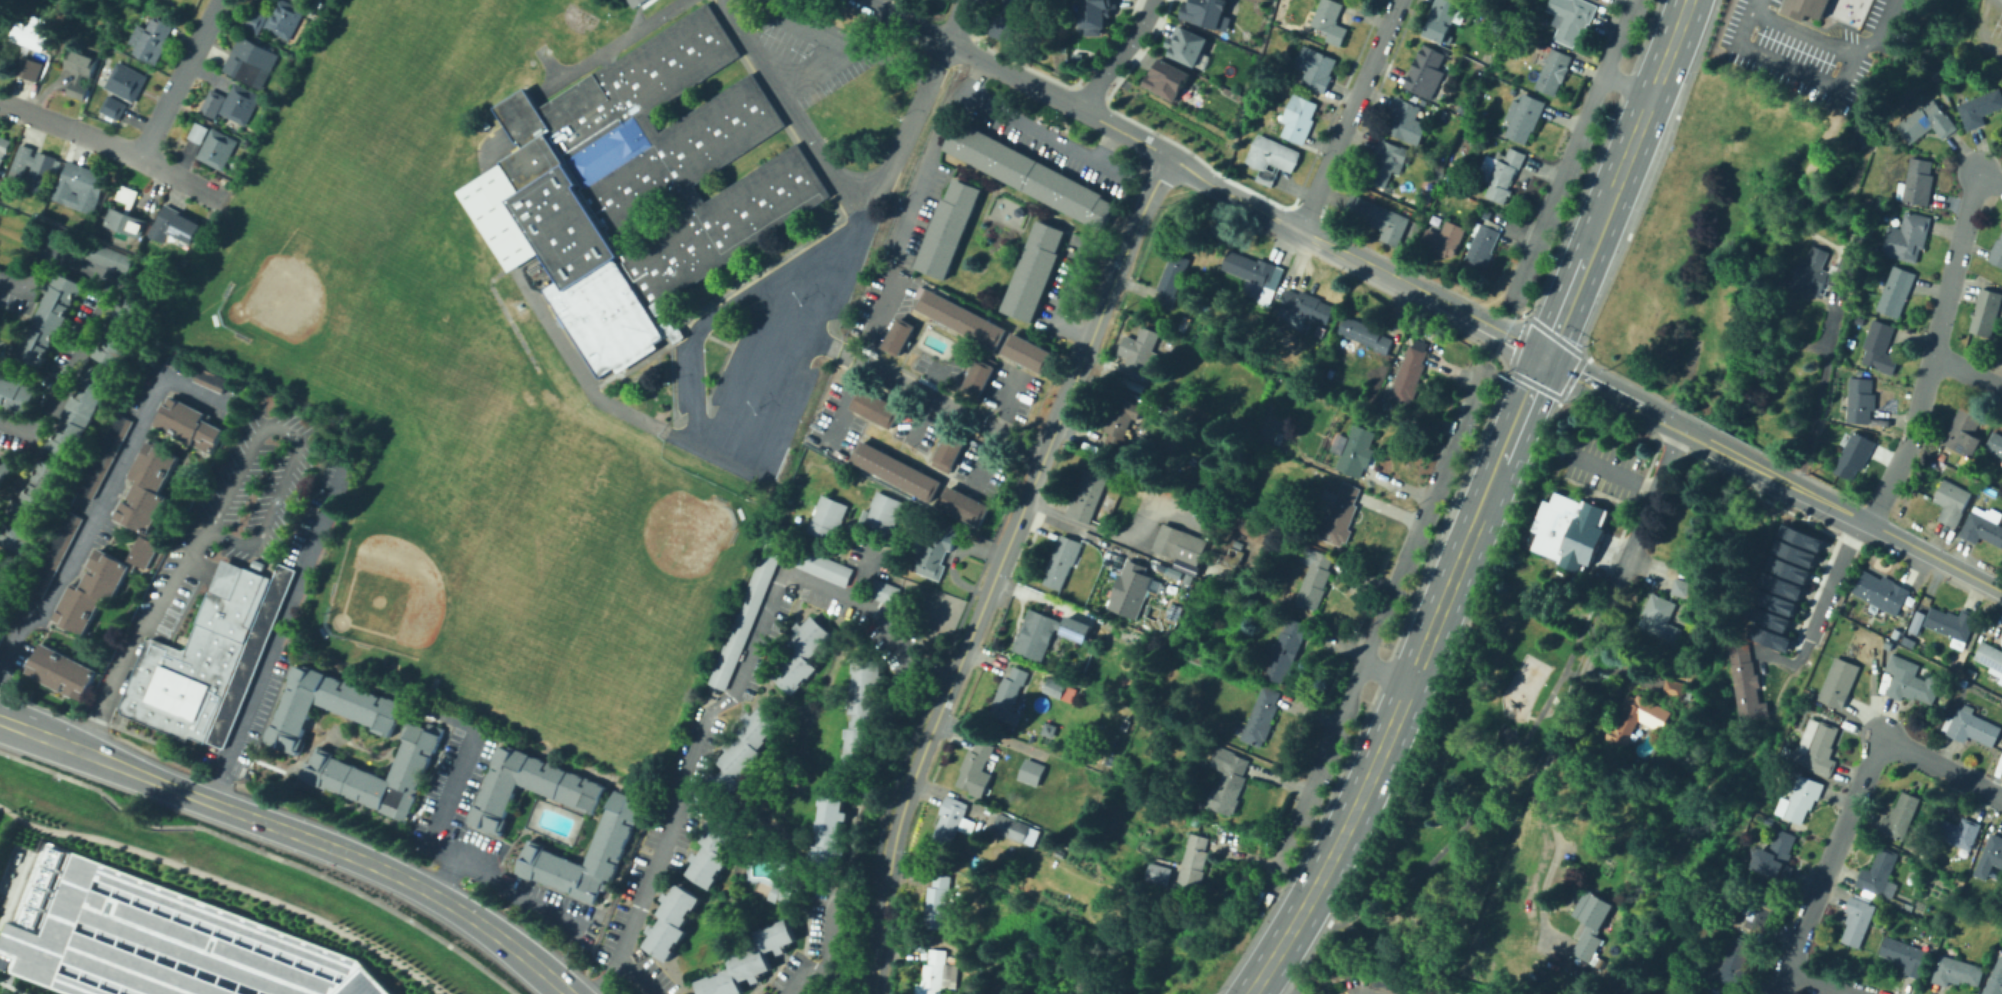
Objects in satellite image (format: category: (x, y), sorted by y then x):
building: (1598, 0)
road: (2001, 0)
building: (632, 2)
road: (1757, 6)
building: (1809, 6)
road: (634, 13)
building: (1208, 13)
building: (1096, 14)
building: (287, 18)
park: (576, 18)
building: (1008, 18)
building: (1572, 18)
building: (257, 19)
building: (1444, 19)
building: (1, 21)
road: (906, 21)
building: (1330, 21)
road: (734, 22)
road: (957, 22)
road: (1984, 29)
road: (1882, 32)
building: (153, 38)
road: (818, 40)
building: (1188, 45)
road: (610, 46)
building: (27, 47)
parking lot: (811, 54)
road: (1119, 55)
road: (881, 58)
building: (254, 60)
road: (547, 64)
building: (1316, 68)
building: (80, 71)
building: (1426, 71)
building: (1554, 71)
road: (177, 79)
building: (1169, 79)
building: (123, 80)
park: (403, 80)
road: (1840, 85)
road: (1626, 86)
road: (1060, 99)
building: (215, 103)
building: (243, 103)
road: (786, 105)
building: (113, 107)
building: (1462, 108)
building: (1980, 108)
road: (1349, 115)
building: (1524, 117)
building: (199, 118)
building: (521, 118)
building: (1299, 118)
building: (1406, 121)
building: (1927, 123)
building: (485, 125)
building: (200, 132)
road: (1046, 136)
road: (107, 144)
road: (1109, 146)
building: (4, 149)
building: (219, 149)
road: (1574, 149)
road: (934, 155)
building: (1271, 158)
building: (1386, 162)
building: (37, 167)
building: (1501, 172)
building: (1033, 176)
road: (476, 181)
building: (1918, 182)
building: (646, 183)
road: (1993, 183)
building: (78, 188)
road: (878, 190)
building: (128, 195)
road: (844, 195)
road: (1234, 195)
building: (498, 214)
building: (1378, 218)
building: (125, 221)
building: (176, 227)
building: (950, 229)
building: (95, 231)
building: (1907, 237)
building: (1444, 239)
building: (1859, 240)
building: (1484, 244)
building: (88, 249)
building: (1997, 252)
building: (142, 253)
road: (756, 271)
building: (1036, 272)
building: (1821, 273)
road: (739, 274)
building: (1256, 275)
building: (1172, 280)
park: (326, 282)
building: (1896, 291)
road: (1420, 293)
parking lot: (14, 299)
road: (1072, 302)
building: (657, 305)
road: (97, 307)
road: (13, 309)
road: (503, 310)
building: (1304, 310)
building: (1986, 313)
building: (48, 316)
building: (964, 319)
park: (429, 324)
road: (881, 325)
building: (1185, 325)
building: (665, 327)
building: (121, 330)
road: (1093, 330)
road: (18, 331)
road: (701, 333)
building: (674, 334)
parking lot: (69, 335)
building: (1365, 335)
building: (900, 337)
road: (667, 343)
building: (1139, 348)
building: (1880, 348)
road: (1932, 348)
road: (5, 349)
road: (725, 353)
building: (1029, 354)
parking lot: (767, 355)
road: (1510, 355)
building: (635, 356)
traffic signals: (1543, 356)
road: (751, 362)
road: (1966, 371)
building: (1410, 375)
building: (981, 377)
building: (208, 378)
road: (27, 381)
road: (588, 386)
road: (696, 386)
road: (1611, 391)
building: (16, 394)
road: (926, 398)
road: (924, 400)
building: (1861, 400)
road: (847, 404)
building: (878, 409)
building: (77, 410)
road: (1812, 410)
building: (189, 423)
building: (1122, 426)
road: (999, 429)
building: (1964, 431)
parking lot: (18, 440)
building: (1995, 444)
road: (11, 450)
building: (953, 450)
building: (1355, 451)
building: (1562, 451)
building: (105, 454)
road: (1734, 455)
building: (1854, 455)
building: (3, 468)
parking lot: (1601, 468)
road: (1614, 470)
building: (897, 472)
road: (21, 476)
building: (1987, 490)
building: (1087, 496)
road: (102, 498)
road: (220, 502)
building: (1952, 502)
road: (1828, 503)
building: (29, 504)
road: (1482, 504)
building: (966, 506)
building: (881, 513)
road: (1448, 513)
building: (826, 515)
building: (1341, 515)
road: (1423, 515)
building: (1554, 525)
building: (1982, 529)
building: (143, 535)
building: (1800, 536)
building: (1584, 538)
road: (1096, 539)
building: (1238, 544)
building: (1181, 547)
building: (935, 551)
building: (1793, 551)
building: (55, 552)
park: (442, 553)
park: (542, 554)
road: (1935, 556)
building: (1224, 561)
building: (1062, 562)
park: (602, 563)
building: (822, 566)
building: (1787, 566)
road: (1619, 572)
road: (1437, 574)
road: (862, 575)
building: (1314, 578)
building: (1190, 579)
road: (1836, 579)
building: (1779, 582)
building: (7, 583)
building: (1682, 589)
building: (882, 590)
building: (1132, 590)
building: (1882, 592)
building: (1774, 600)
building: (1767, 616)
building: (742, 617)
building: (1662, 618)
building: (1915, 621)
building: (1952, 624)
building: (1047, 630)
road: (277, 632)
building: (1896, 633)
building: (1770, 637)
building: (1910, 641)
building: (1889, 643)
building: (1284, 649)
building: (800, 652)
building: (200, 654)
building: (1990, 655)
building: (1955, 663)
building: (372, 667)
building: (60, 670)
road: (1383, 671)
road: (1385, 671)
building: (1971, 672)
building: (1911, 681)
building: (1839, 682)
building: (1964, 682)
building: (1747, 685)
building: (1055, 687)
building: (1677, 690)
road: (729, 694)
building: (1009, 696)
building: (324, 708)
building: (861, 711)
building: (1262, 717)
building: (1637, 720)
building: (1970, 727)
building: (1050, 730)
road: (927, 737)
building: (747, 748)
building: (1819, 750)
road: (105, 759)
road: (1544, 761)
building: (977, 769)
building: (1032, 772)
road: (1318, 773)
building: (376, 775)
building: (1228, 781)
park: (1461, 793)
building: (699, 797)
building: (1803, 798)
building: (494, 801)
road: (1853, 803)
road: (1473, 810)
building: (1901, 815)
building: (951, 823)
building: (1012, 827)
building: (829, 831)
building: (1957, 833)
road: (1304, 842)
building: (716, 849)
road: (263, 852)
road: (453, 855)
building: (587, 855)
building: (1777, 856)
building: (1991, 858)
building: (1194, 863)
building: (1159, 873)
building: (1881, 874)
road: (445, 875)
road: (400, 876)
building: (821, 880)
road: (228, 881)
building: (787, 886)
building: (941, 904)
building: (1899, 904)
building: (1760, 909)
building: (1858, 919)
building: (672, 921)
building: (1591, 924)
road: (831, 927)
building: (168, 944)
parking lot: (168, 944)
building: (1906, 956)
building: (750, 961)
building: (1737, 963)
road: (825, 968)
building: (1956, 971)
building: (936, 972)
road: (604, 974)
building: (1995, 980)
road: (1823, 983)
road: (875, 986)
road: (1272, 986)
road: (13, 988)
building: (1716, 989)

